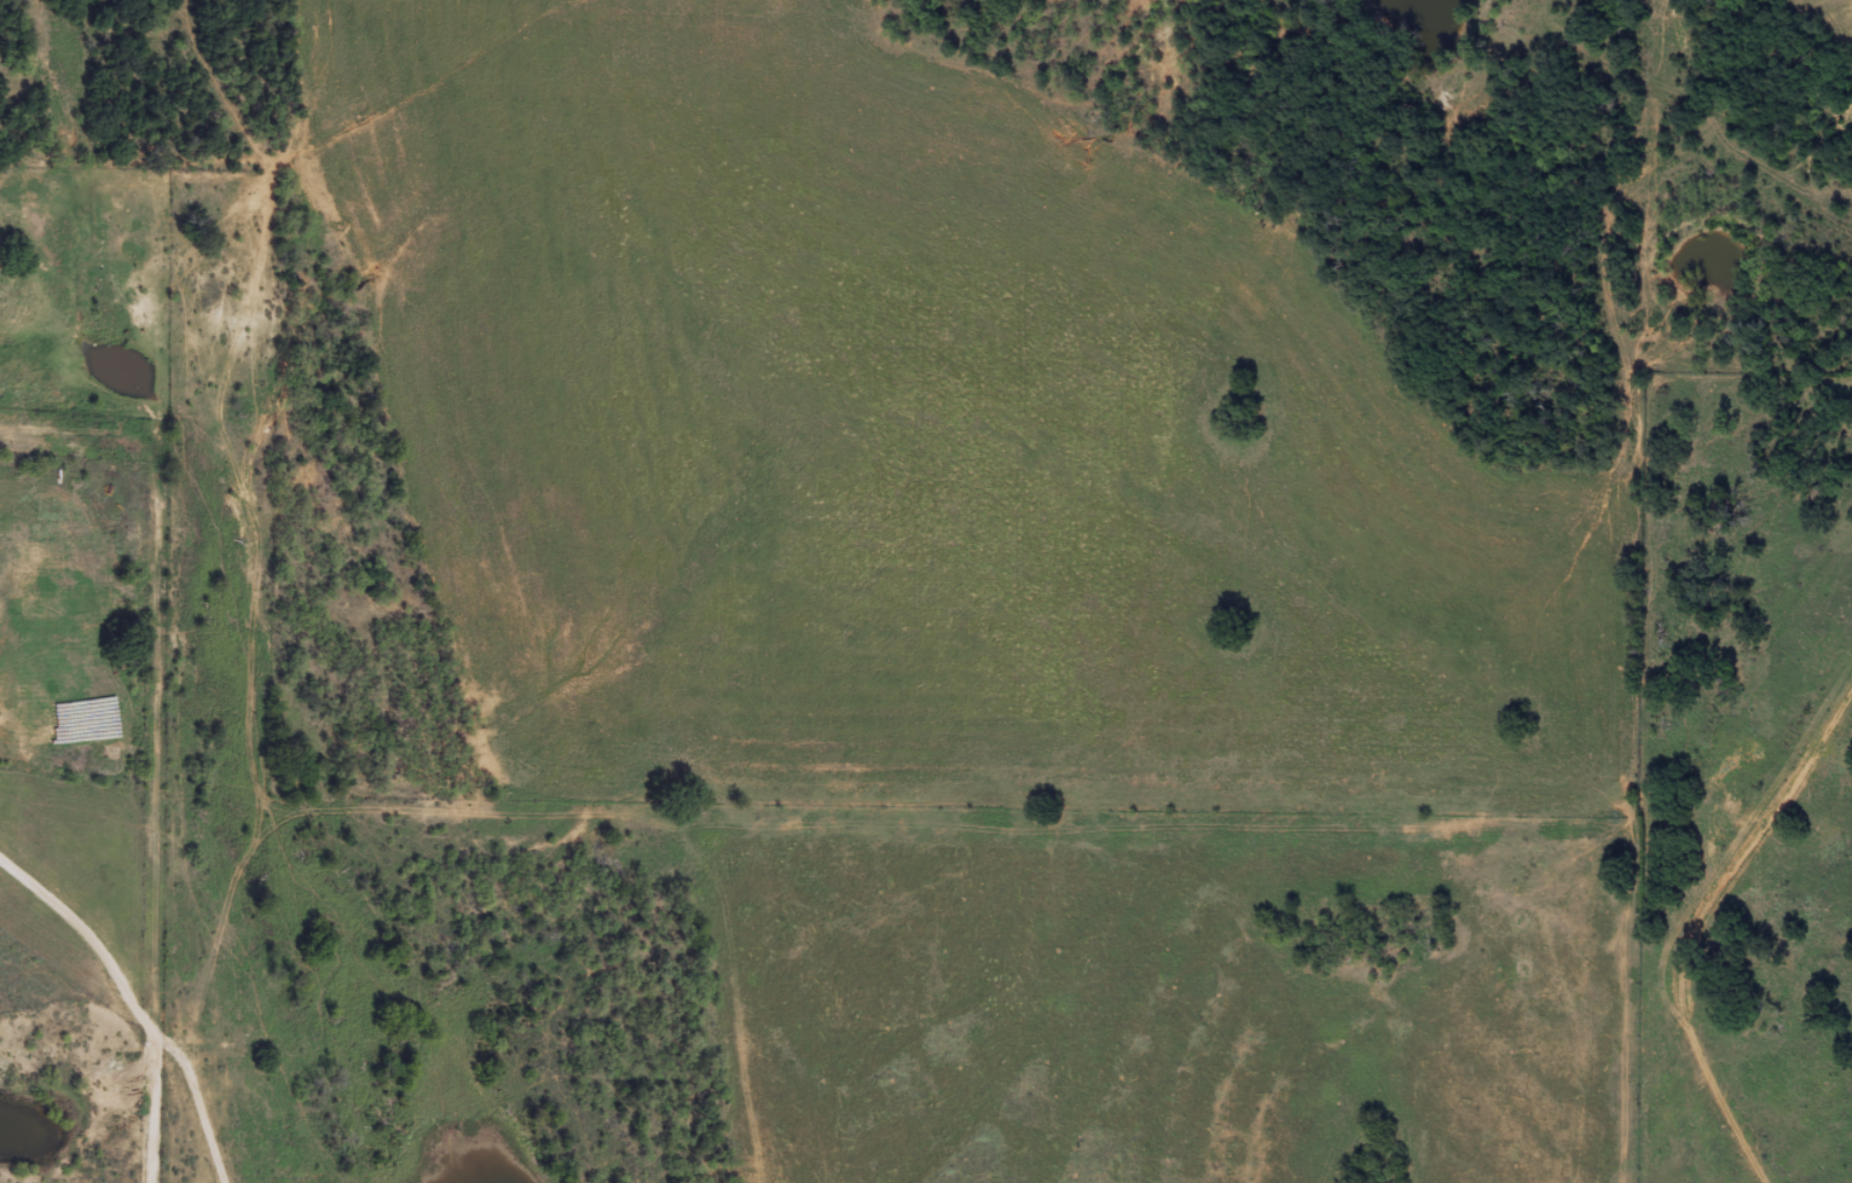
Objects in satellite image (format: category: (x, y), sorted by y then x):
road: (1725, 958)
road: (76, 1101)

